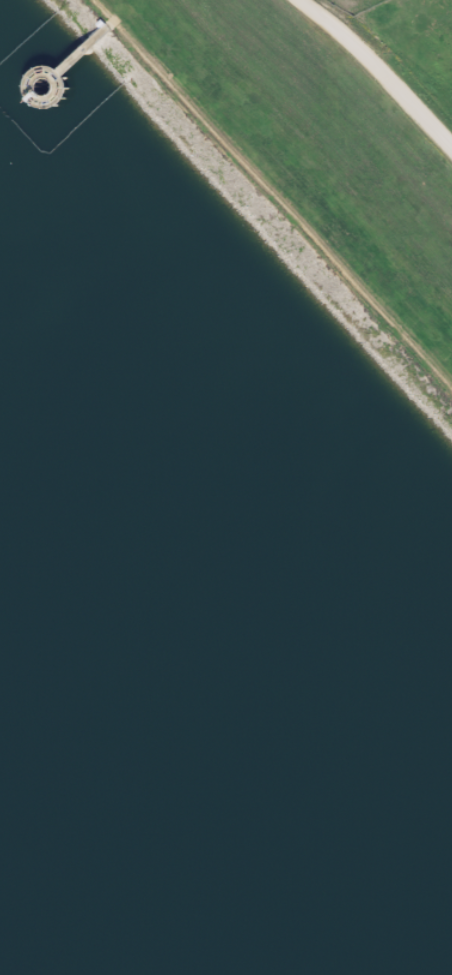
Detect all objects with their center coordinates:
road: (379, 70)
dam: (281, 189)
road: (272, 194)

